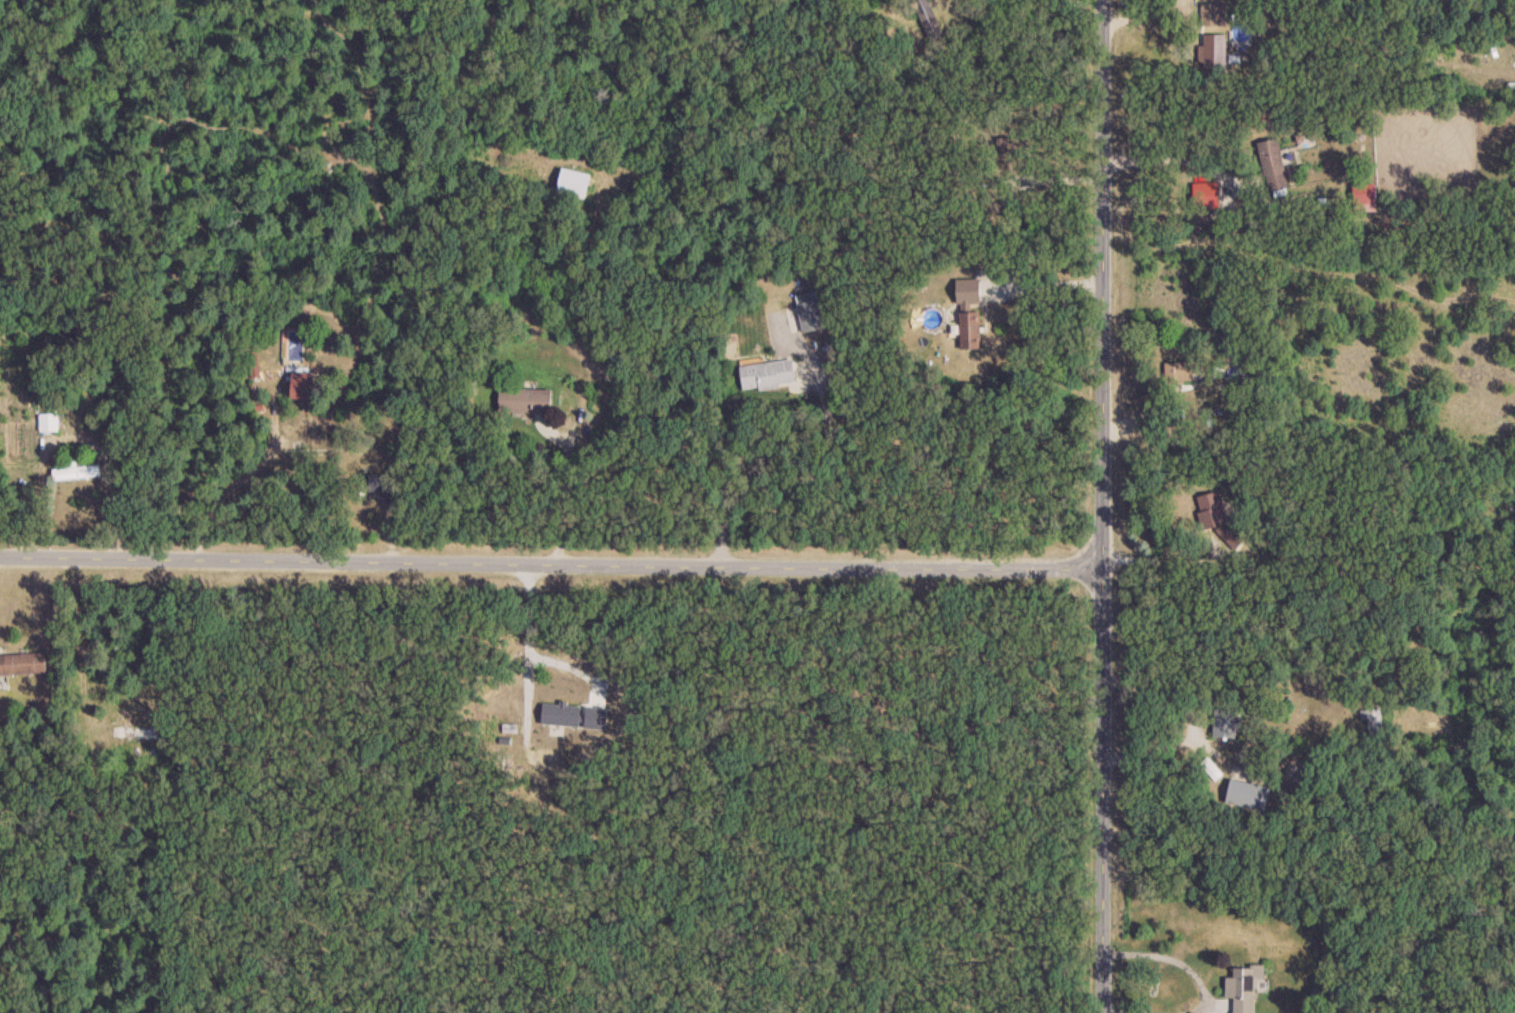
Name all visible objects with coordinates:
building: (1211, 15)
building: (929, 20)
building: (1215, 51)
road: (1176, 157)
building: (1274, 165)
building: (574, 178)
building: (1366, 198)
road: (1001, 238)
building: (969, 314)
building: (805, 315)
building: (1179, 375)
building: (768, 376)
building: (303, 385)
building: (526, 400)
building: (49, 423)
road: (755, 468)
building: (76, 471)
road: (239, 480)
road: (567, 486)
building: (385, 487)
building: (1212, 503)
road: (1100, 506)
road: (1151, 559)
road: (549, 560)
road: (528, 647)
building: (22, 665)
building: (564, 702)
road: (1193, 719)
building: (1227, 723)
building: (1373, 723)
building: (137, 733)
building: (548, 772)
building: (1241, 990)
road: (1208, 991)

